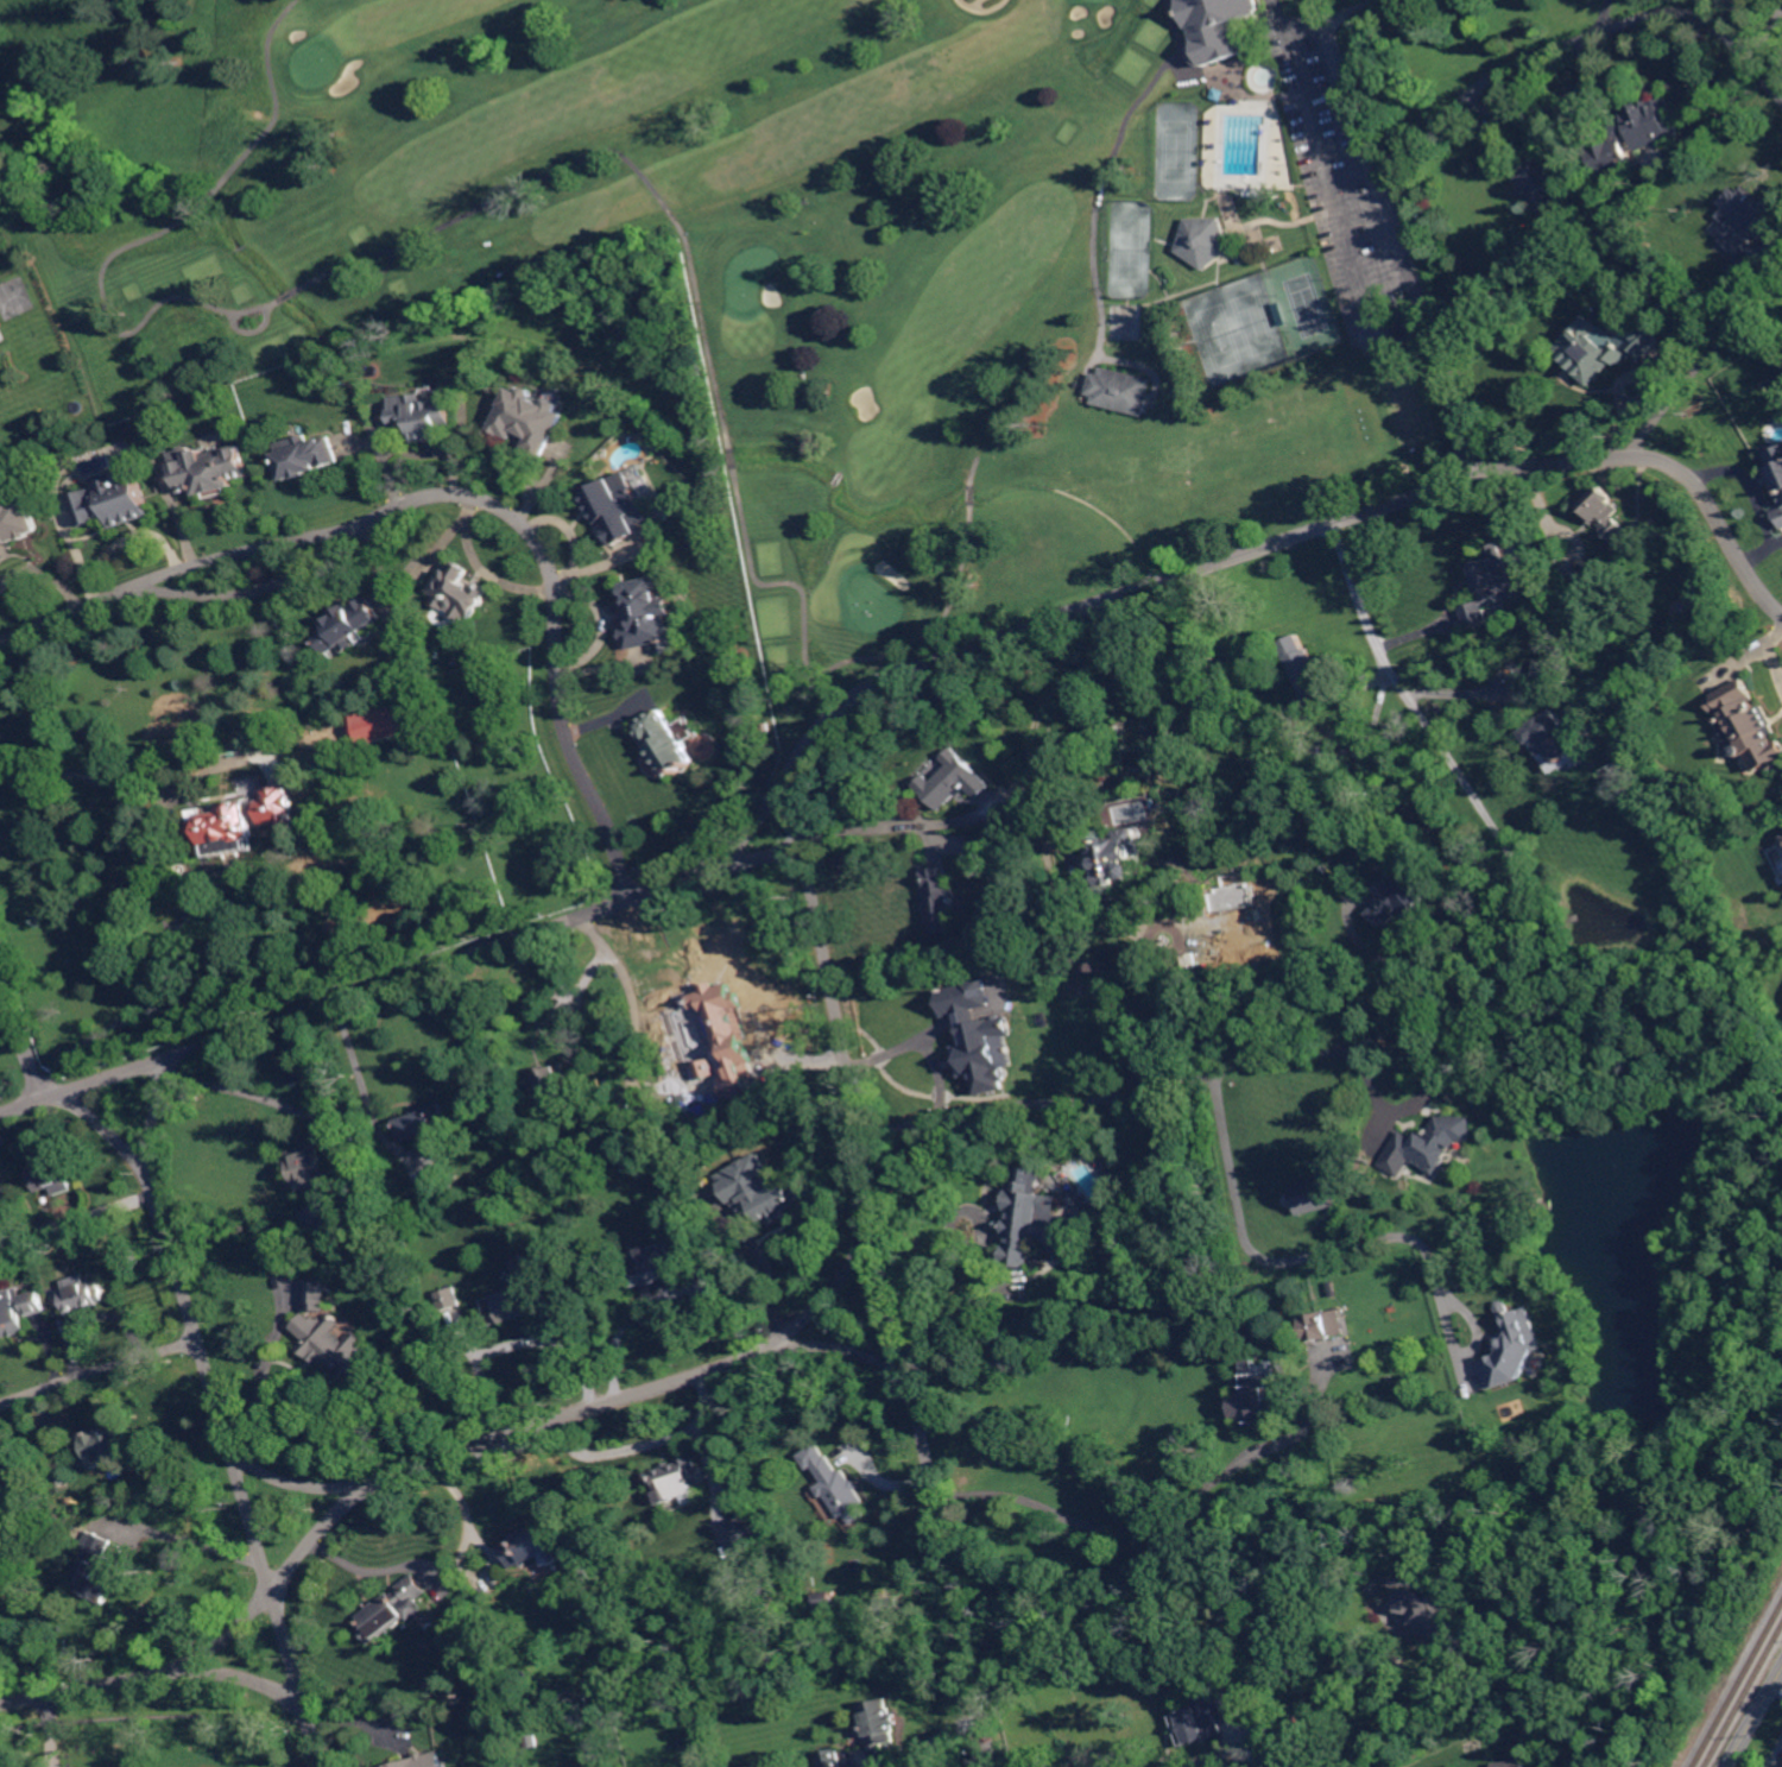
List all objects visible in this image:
road: (1346, 12)
road: (1600, 18)
road: (1291, 27)
building: (1218, 29)
road: (1765, 33)
road: (1576, 42)
building: (1198, 93)
building: (1637, 133)
building: (1576, 176)
road: (1333, 183)
building: (1542, 183)
building: (1745, 220)
road: (1399, 233)
road: (1771, 239)
park: (813, 240)
building: (1206, 241)
building: (1743, 269)
building: (1605, 347)
road: (1699, 364)
building: (1121, 391)
building: (424, 416)
building: (530, 418)
building: (307, 455)
road: (1662, 465)
building: (1775, 468)
building: (208, 471)
road: (453, 493)
road: (1751, 498)
building: (114, 500)
building: (618, 507)
building: (1606, 512)
building: (1778, 517)
building: (15, 522)
road: (132, 535)
road: (74, 548)
road: (45, 570)
building: (1492, 583)
building: (460, 592)
building: (1592, 595)
building: (650, 616)
road: (1061, 616)
building: (349, 626)
road: (1770, 650)
building: (1308, 670)
building: (1549, 670)
road: (1465, 692)
building: (384, 725)
building: (1749, 726)
building: (1557, 741)
building: (666, 743)
building: (1326, 757)
road: (1461, 776)
building: (956, 778)
road: (1038, 781)
building: (277, 804)
building: (227, 829)
road: (853, 832)
building: (1781, 834)
building: (1116, 858)
road: (157, 892)
building: (943, 901)
building: (1398, 901)
building: (1232, 911)
building: (1045, 936)
building: (1264, 955)
building: (1266, 978)
road: (365, 991)
road: (631, 995)
building: (1200, 1002)
building: (709, 1024)
road: (21, 1033)
building: (979, 1036)
road: (923, 1042)
building: (739, 1059)
road: (1231, 1061)
building: (548, 1084)
road: (367, 1086)
road: (246, 1092)
building: (699, 1116)
building: (425, 1124)
building: (1435, 1142)
building: (309, 1168)
building: (712, 1174)
building: (51, 1178)
building: (437, 1189)
building: (1315, 1194)
building: (783, 1201)
building: (1031, 1225)
building: (335, 1229)
building: (46, 1231)
building: (311, 1238)
road: (1304, 1245)
road: (766, 1264)
building: (656, 1270)
building: (43, 1273)
road: (890, 1274)
building: (1308, 1292)
building: (82, 1296)
building: (317, 1296)
road: (661, 1296)
building: (448, 1300)
building: (513, 1306)
building: (10, 1315)
building: (1323, 1324)
road: (956, 1325)
road: (783, 1336)
road: (519, 1340)
building: (334, 1349)
building: (1511, 1349)
road: (99, 1372)
building: (1258, 1395)
road: (222, 1420)
building: (105, 1445)
road: (645, 1445)
building: (11, 1468)
building: (61, 1478)
building: (676, 1481)
road: (293, 1482)
road: (358, 1489)
building: (839, 1490)
building: (100, 1497)
road: (1142, 1522)
building: (746, 1534)
road: (194, 1541)
building: (532, 1547)
building: (1083, 1547)
building: (96, 1567)
road: (367, 1570)
road: (1178, 1583)
building: (1315, 1597)
building: (821, 1601)
building: (886, 1608)
building: (391, 1610)
building: (1429, 1611)
road: (252, 1678)
road: (1780, 1683)
railway: (1738, 1686)
railway: (1744, 1697)
building: (1202, 1718)
road: (1756, 1719)
building: (880, 1724)
road: (51, 1731)
building: (1534, 1738)
building: (531, 1741)
building: (830, 1757)
road: (1776, 1757)
building: (802, 1759)
building: (424, 1761)
building: (1510, 1763)
building: (1781, 1765)

